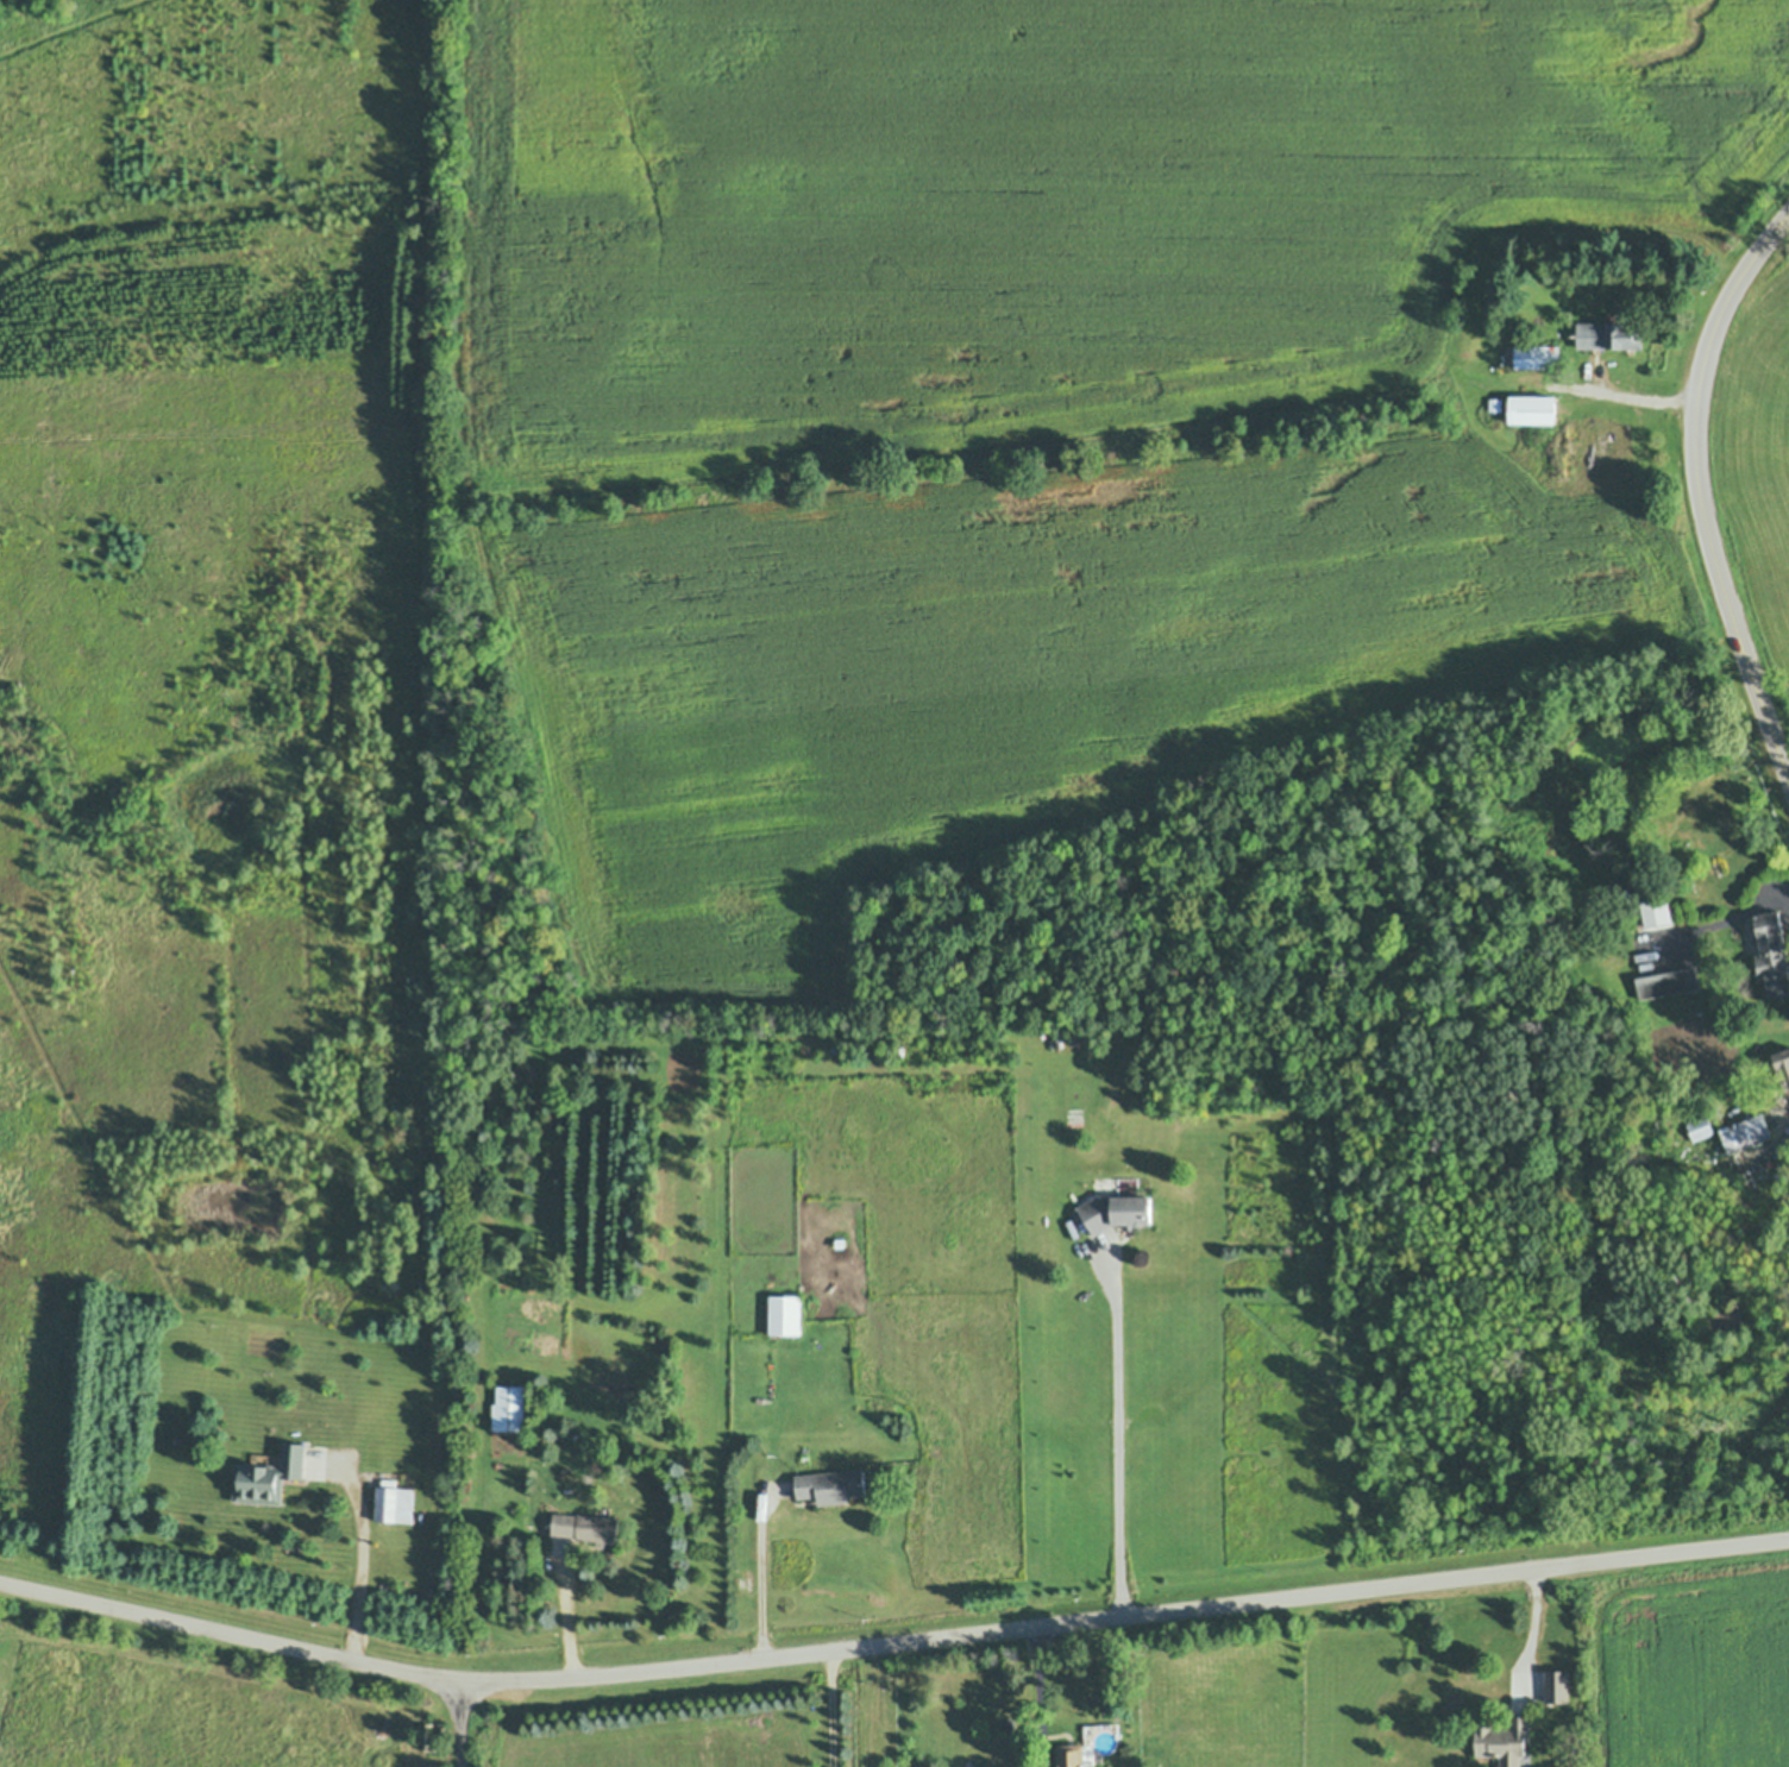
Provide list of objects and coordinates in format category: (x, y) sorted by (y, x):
building: (1611, 335)
building: (1534, 356)
road: (1636, 396)
building: (1495, 404)
building: (1531, 409)
building: (1203, 432)
building: (1609, 480)
road: (1699, 491)
building: (511, 515)
building: (1, 673)
building: (1624, 897)
building: (1653, 912)
road: (1730, 918)
building: (1772, 955)
building: (1665, 986)
building: (1043, 1031)
building: (1098, 1040)
building: (835, 1051)
building: (1783, 1067)
building: (1688, 1089)
building: (1701, 1127)
building: (1746, 1133)
building: (1113, 1212)
building: (840, 1244)
building: (784, 1316)
building: (507, 1409)
road: (1122, 1446)
building: (268, 1478)
building: (830, 1488)
building: (384, 1505)
building: (585, 1528)
road: (360, 1566)
road: (764, 1579)
road: (561, 1609)
road: (1532, 1633)
road: (891, 1646)
building: (1557, 1687)
road: (1037, 1697)
road: (831, 1710)
road: (462, 1723)
building: (435, 1736)
building: (1505, 1741)
building: (1079, 1755)
building: (1013, 1766)

